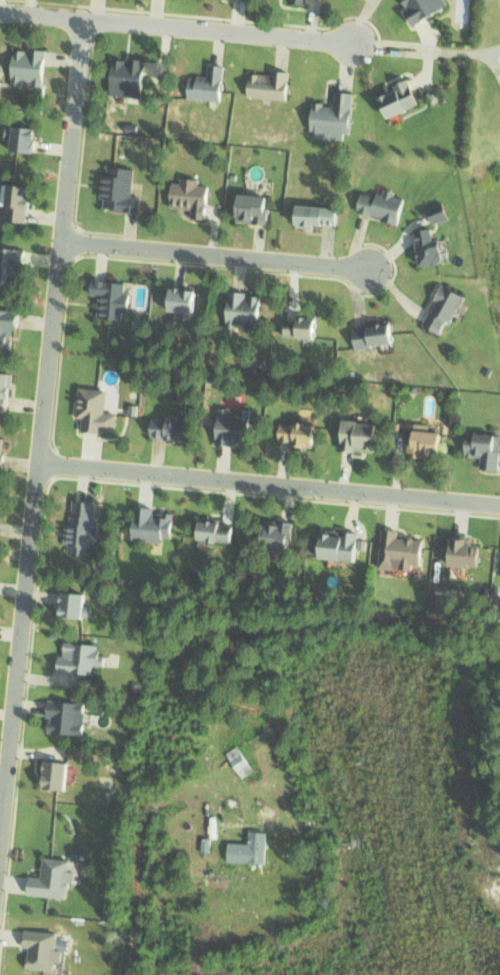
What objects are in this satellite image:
building: (307, 0)
building: (426, 10)
road: (175, 25)
building: (32, 67)
building: (135, 78)
building: (211, 84)
building: (272, 85)
building: (436, 96)
building: (405, 99)
building: (337, 117)
building: (26, 139)
building: (124, 190)
building: (194, 197)
building: (19, 201)
building: (386, 206)
building: (257, 208)
building: (321, 216)
building: (436, 248)
road: (212, 256)
building: (13, 264)
building: (116, 299)
building: (188, 302)
building: (247, 307)
building: (446, 309)
building: (10, 327)
building: (307, 328)
building: (378, 335)
building: (8, 385)
building: (99, 410)
road: (42, 420)
building: (237, 425)
building: (177, 427)
building: (305, 432)
building: (364, 434)
building: (431, 441)
building: (486, 448)
road: (269, 483)
building: (1, 507)
building: (157, 523)
building: (87, 527)
building: (220, 530)
building: (281, 533)
building: (343, 544)
building: (404, 550)
building: (76, 603)
building: (86, 657)
building: (70, 716)
building: (241, 761)
building: (60, 774)
building: (253, 848)
building: (56, 878)
building: (45, 949)

